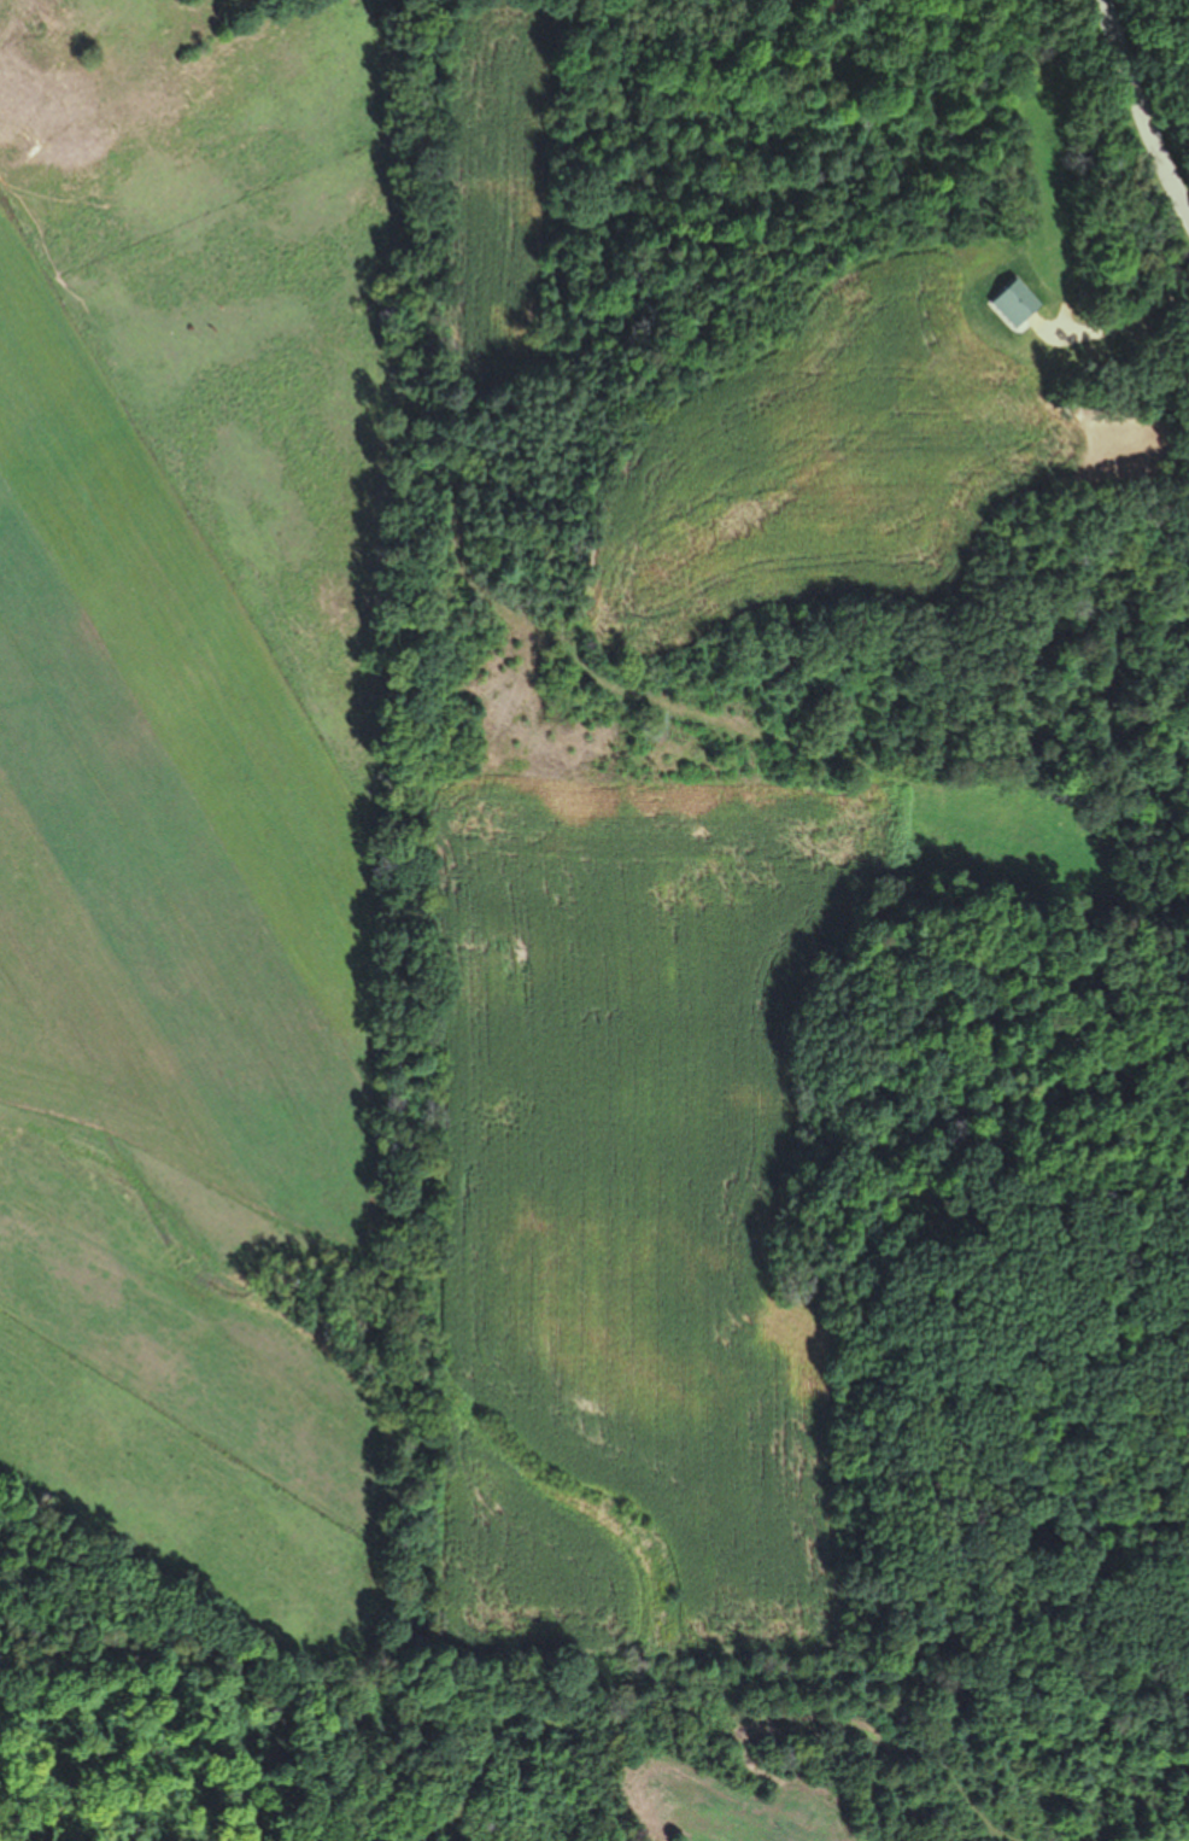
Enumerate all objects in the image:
road: (1141, 106)

